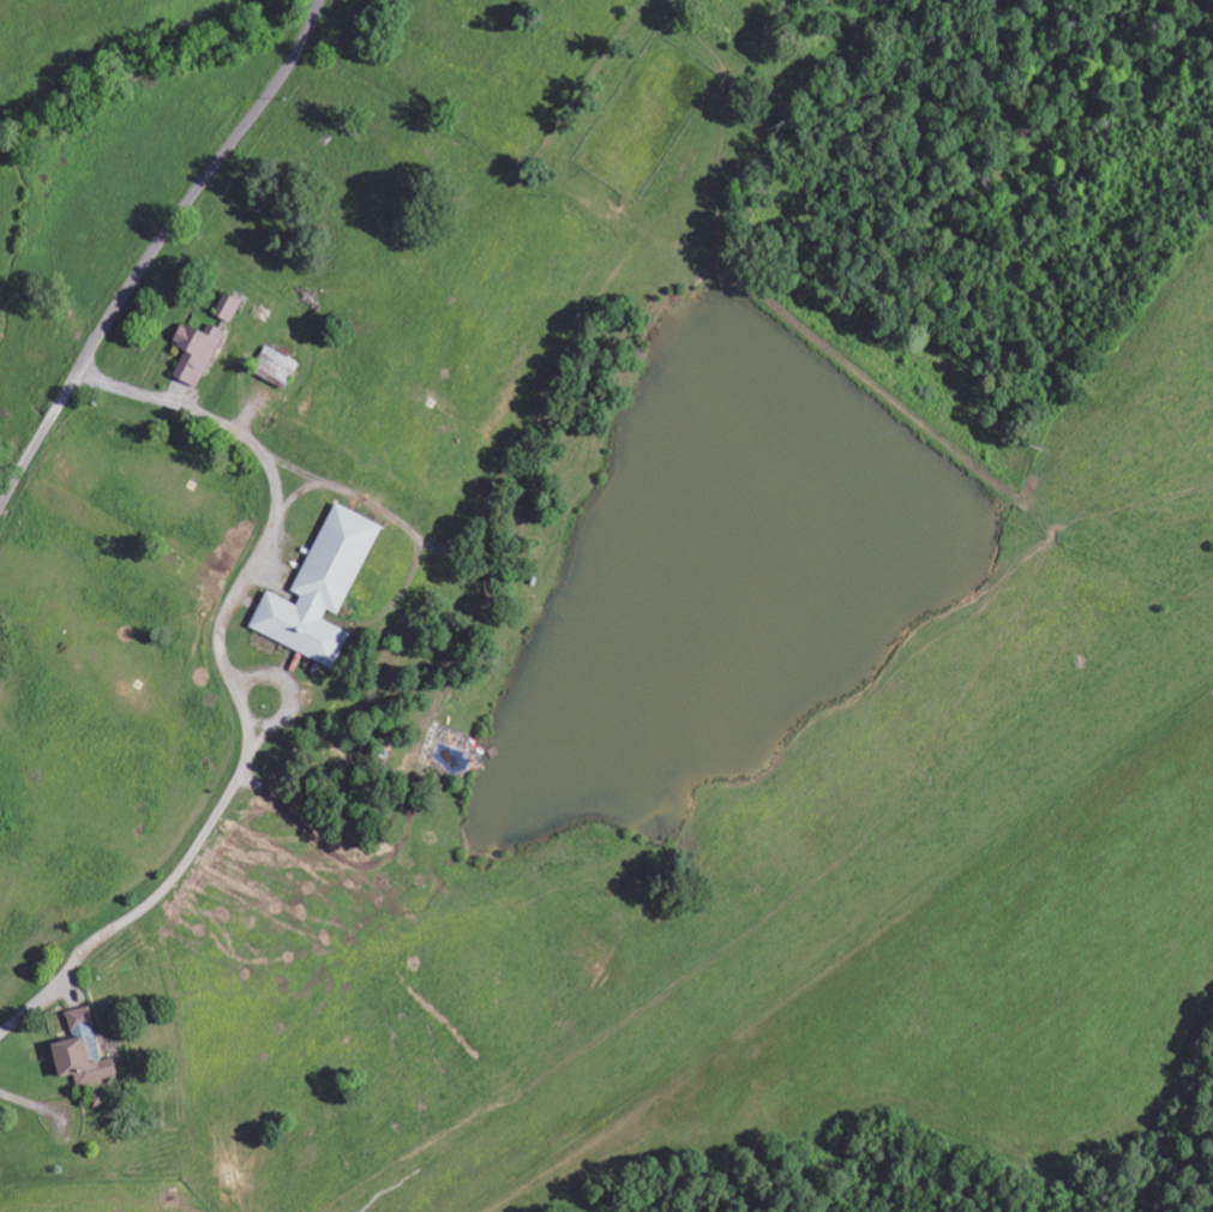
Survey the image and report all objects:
road: (155, 250)
building: (192, 354)
building: (272, 368)
building: (316, 590)
airport runway: (800, 928)
building: (77, 1054)

